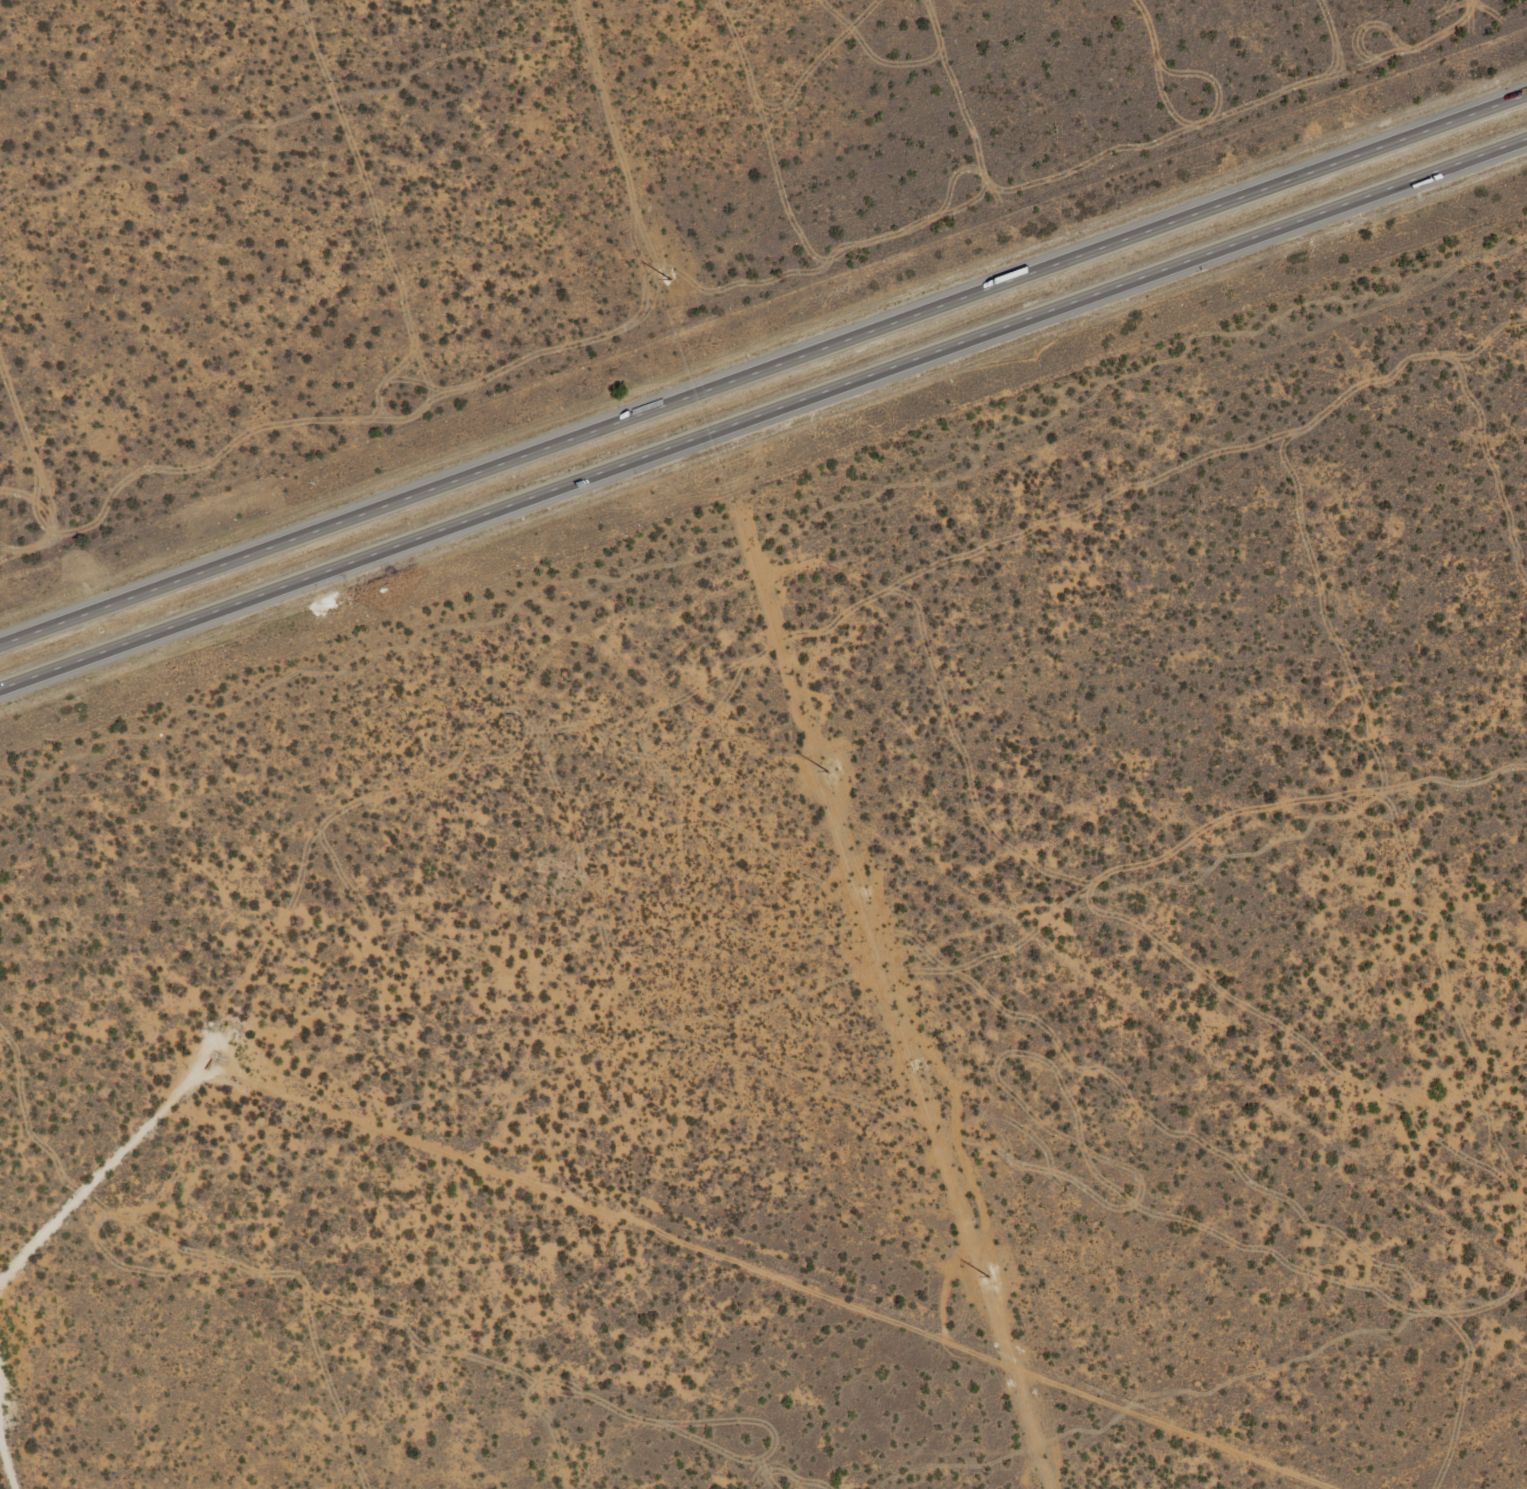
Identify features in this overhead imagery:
road: (763, 369)
road: (763, 412)
road: (107, 1174)
road: (7, 1463)

